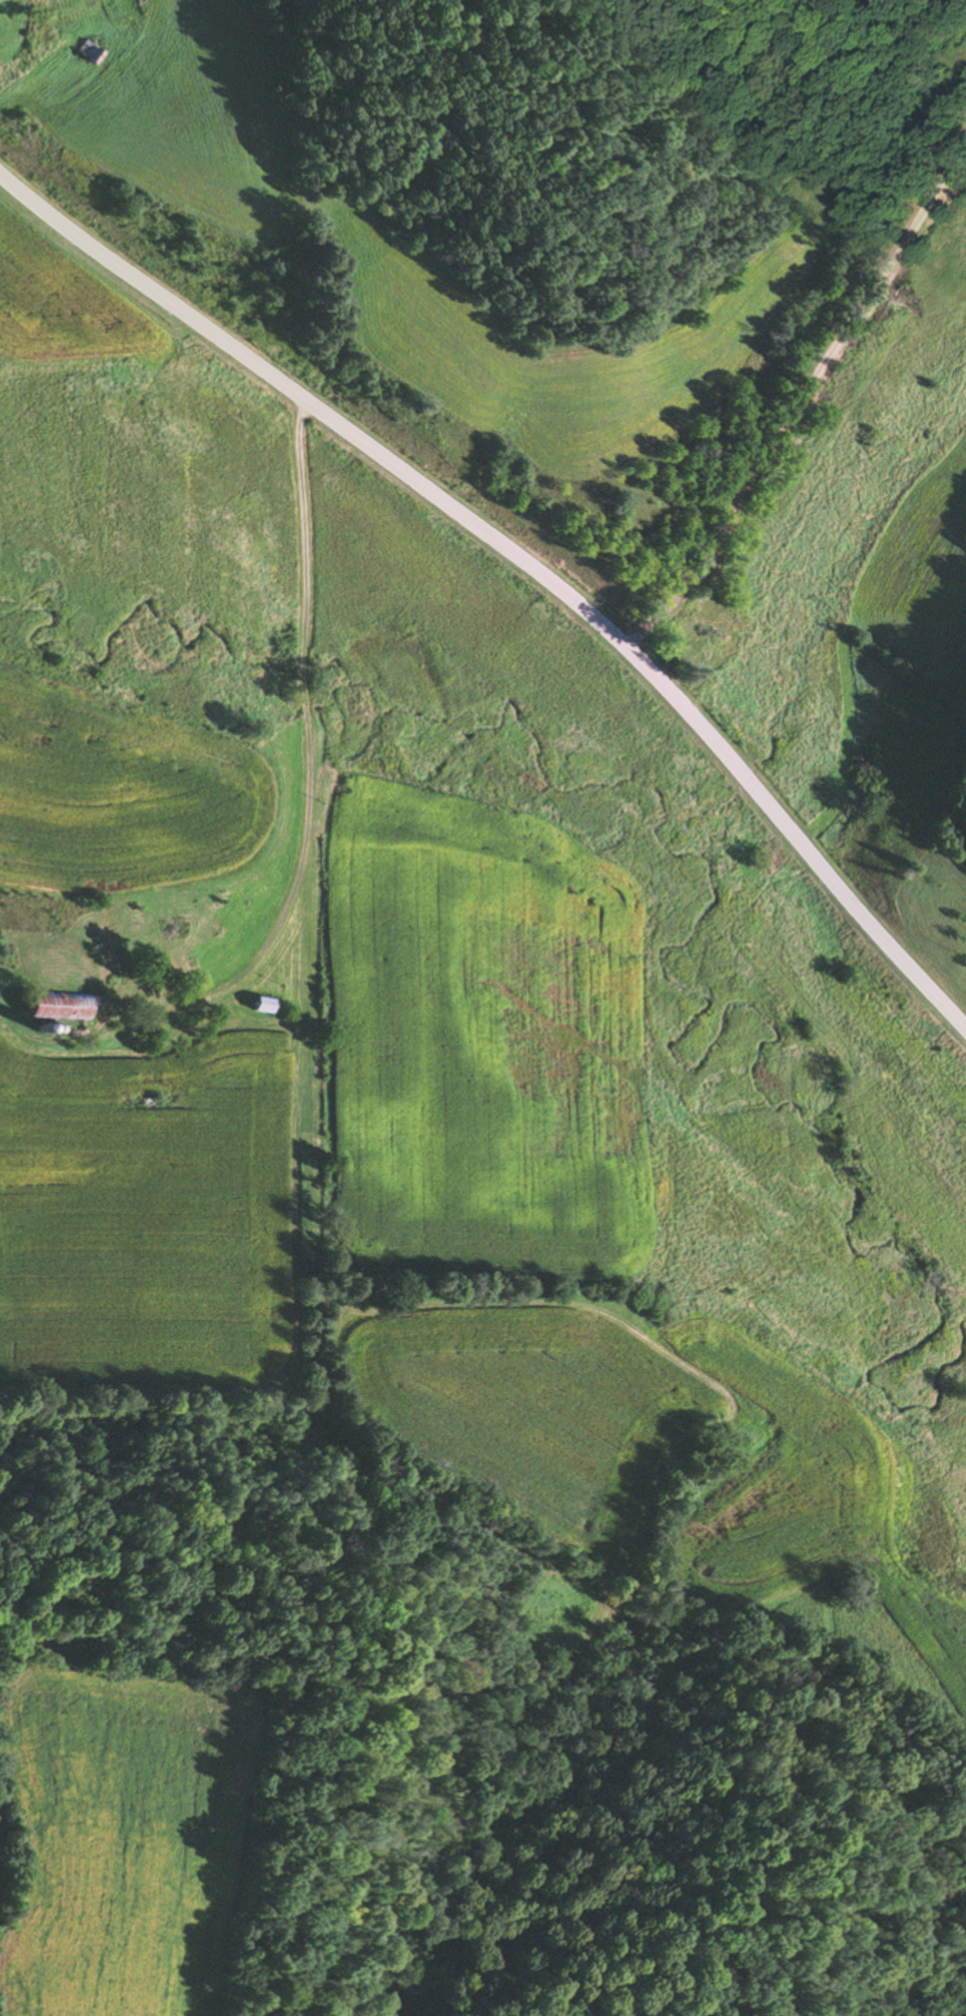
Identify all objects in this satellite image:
road: (796, 379)
road: (517, 552)
building: (696, 627)
building: (723, 646)
road: (281, 745)
building: (172, 926)
building: (262, 1004)
building: (58, 1006)

